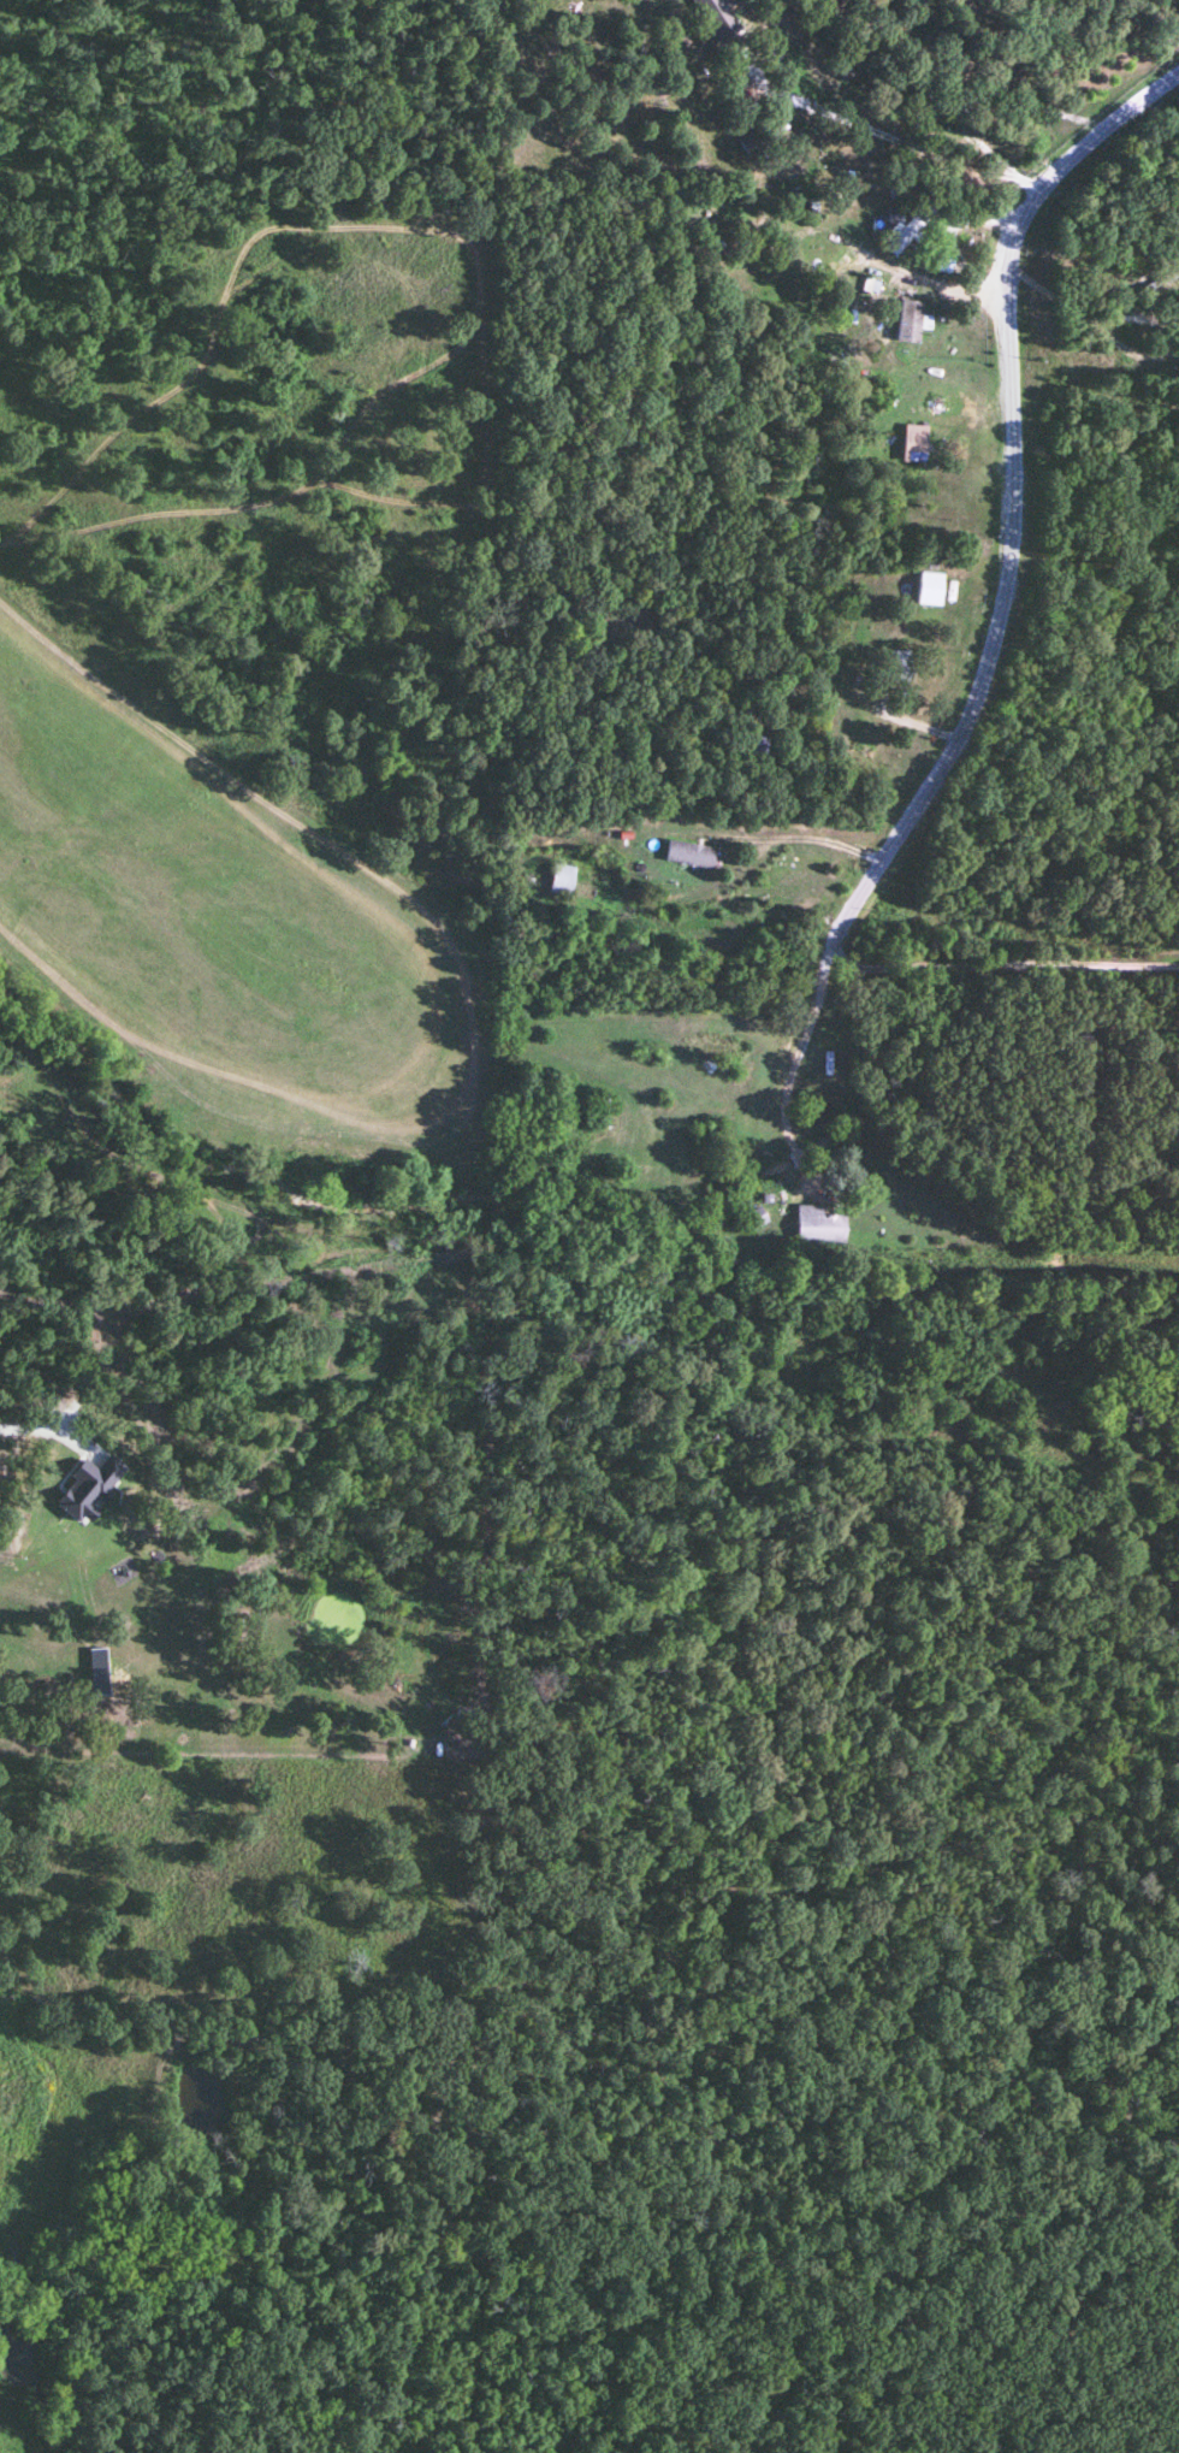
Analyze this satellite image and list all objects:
building: (717, 18)
building: (753, 142)
building: (908, 321)
road: (1009, 536)
building: (930, 590)
building: (900, 667)
building: (688, 855)
road: (737, 861)
building: (520, 862)
building: (561, 881)
road: (997, 969)
building: (725, 1040)
building: (727, 1070)
road: (780, 1110)
building: (816, 1225)
road: (31, 1428)

